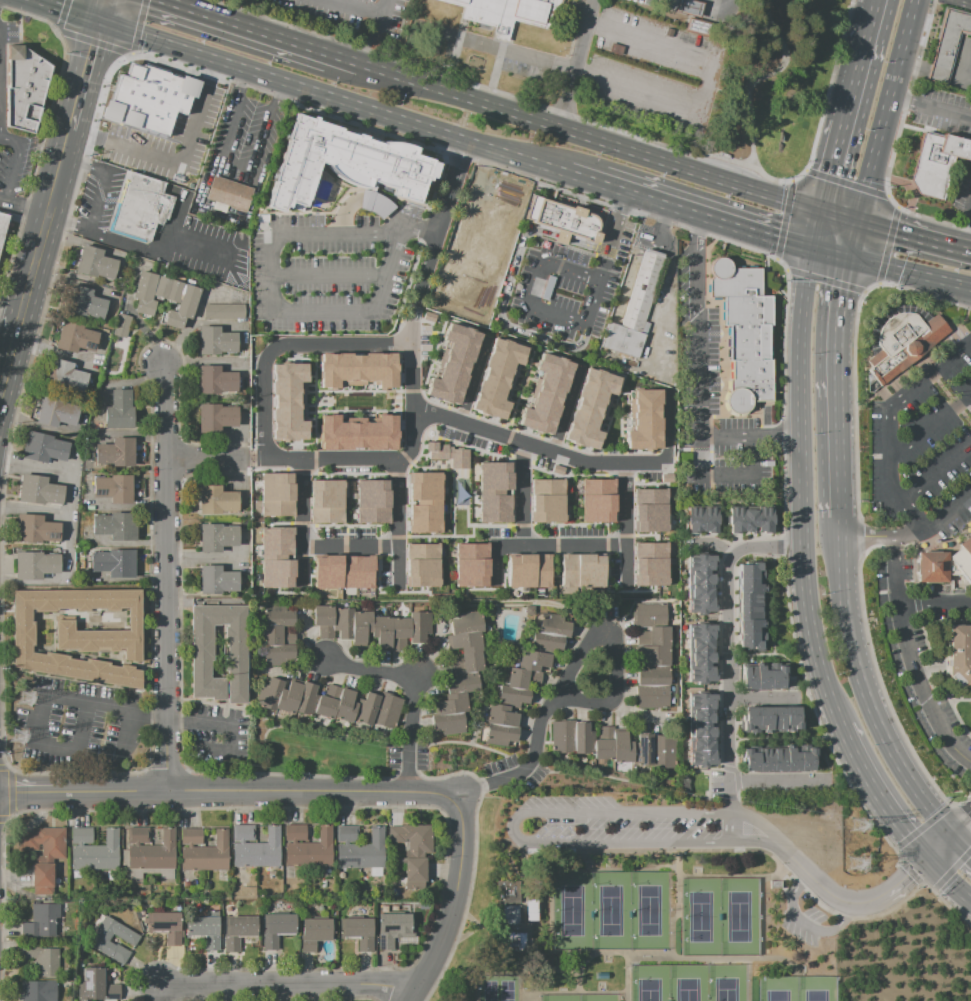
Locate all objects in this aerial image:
building: (969, 0)
road: (962, 2)
road: (356, 7)
building: (688, 7)
road: (185, 9)
building: (507, 11)
road: (65, 12)
road: (104, 12)
parking lot: (356, 15)
traffic signals: (101, 25)
road: (378, 34)
road: (143, 38)
building: (948, 46)
road: (499, 47)
road: (865, 63)
road: (574, 64)
road: (181, 67)
parking lot: (661, 70)
road: (84, 77)
road: (153, 78)
road: (242, 84)
road: (709, 84)
building: (30, 88)
road: (751, 89)
road: (278, 93)
road: (904, 100)
building: (173, 109)
road: (888, 111)
road: (943, 111)
road: (375, 113)
road: (518, 116)
road: (208, 123)
road: (43, 136)
road: (157, 138)
road: (19, 160)
building: (345, 162)
building: (937, 163)
building: (147, 166)
road: (237, 168)
road: (834, 169)
road: (488, 173)
road: (584, 174)
building: (228, 193)
road: (366, 199)
road: (99, 201)
building: (373, 201)
road: (625, 202)
building: (141, 207)
road: (24, 210)
traffic signals: (823, 213)
road: (708, 214)
building: (563, 218)
road: (841, 218)
road: (416, 221)
road: (474, 221)
traffic signals: (860, 223)
building: (2, 225)
road: (495, 227)
road: (45, 230)
road: (819, 230)
road: (373, 231)
road: (915, 236)
road: (968, 239)
road: (854, 241)
road: (588, 245)
traffic signals: (815, 248)
road: (161, 250)
road: (831, 253)
traffic signals: (848, 259)
building: (95, 263)
road: (909, 273)
road: (667, 274)
road: (327, 275)
road: (603, 276)
building: (474, 279)
parking lot: (571, 284)
road: (535, 285)
building: (164, 297)
road: (416, 301)
building: (84, 303)
building: (484, 304)
road: (502, 306)
road: (282, 309)
building: (224, 311)
building: (630, 320)
building: (121, 325)
road: (9, 327)
building: (745, 334)
building: (75, 337)
building: (901, 340)
building: (215, 341)
road: (340, 344)
road: (48, 349)
road: (9, 363)
building: (455, 364)
building: (357, 369)
building: (66, 377)
building: (496, 377)
road: (472, 378)
building: (216, 380)
road: (832, 387)
road: (697, 390)
building: (546, 394)
road: (267, 400)
building: (287, 401)
building: (591, 409)
road: (566, 410)
building: (119, 411)
building: (56, 412)
building: (216, 418)
building: (644, 420)
parking lot: (968, 420)
road: (885, 421)
road: (929, 427)
building: (357, 433)
road: (751, 436)
road: (537, 447)
building: (43, 448)
building: (115, 453)
building: (447, 453)
road: (324, 456)
road: (209, 457)
parking lot: (920, 457)
road: (936, 471)
building: (113, 488)
road: (804, 488)
building: (494, 489)
building: (39, 490)
road: (68, 492)
building: (276, 494)
building: (216, 500)
building: (546, 500)
building: (596, 500)
building: (325, 501)
building: (372, 501)
building: (428, 506)
building: (648, 509)
road: (723, 517)
building: (710, 519)
building: (694, 520)
building: (735, 520)
building: (751, 520)
building: (765, 521)
road: (302, 522)
road: (398, 522)
building: (116, 526)
road: (625, 526)
road: (836, 527)
building: (35, 529)
road: (909, 531)
building: (217, 537)
road: (521, 544)
road: (350, 545)
road: (715, 546)
road: (199, 556)
building: (276, 557)
building: (963, 558)
building: (115, 562)
building: (649, 563)
building: (700, 563)
building: (428, 564)
building: (35, 565)
building: (471, 565)
building: (932, 567)
building: (527, 570)
building: (343, 571)
building: (581, 571)
building: (750, 572)
road: (167, 577)
building: (699, 578)
building: (217, 580)
building: (748, 586)
building: (699, 592)
building: (749, 599)
road: (935, 604)
building: (701, 606)
building: (749, 613)
building: (748, 626)
building: (372, 627)
road: (774, 628)
building: (700, 633)
building: (78, 635)
building: (277, 635)
building: (748, 641)
building: (700, 647)
building: (202, 648)
road: (729, 650)
building: (959, 653)
building: (651, 654)
road: (913, 654)
road: (751, 655)
building: (700, 660)
building: (460, 673)
road: (570, 674)
building: (700, 676)
building: (524, 679)
building: (748, 679)
building: (761, 679)
building: (776, 679)
road: (410, 695)
road: (765, 697)
road: (868, 698)
power tower: (26, 700)
road: (39, 700)
building: (329, 703)
building: (700, 703)
building: (700, 717)
building: (792, 720)
building: (749, 721)
building: (764, 721)
building: (778, 721)
building: (700, 731)
power tower: (18, 736)
building: (590, 740)
road: (774, 740)
building: (700, 745)
building: (643, 750)
building: (663, 751)
building: (701, 760)
building: (765, 761)
building: (778, 761)
building: (791, 761)
building: (807, 761)
building: (749, 762)
road: (768, 784)
road: (228, 792)
road: (878, 798)
road: (496, 802)
parking lot: (621, 822)
power tower: (859, 826)
road: (764, 827)
road: (729, 831)
road: (963, 831)
building: (236, 834)
building: (247, 834)
building: (289, 834)
building: (299, 834)
building: (75, 835)
building: (85, 835)
building: (340, 836)
building: (350, 836)
building: (131, 837)
building: (142, 837)
building: (184, 838)
building: (195, 838)
traffic signals: (956, 838)
road: (525, 844)
road: (963, 846)
building: (413, 849)
building: (311, 851)
building: (258, 852)
building: (97, 853)
building: (361, 853)
road: (601, 853)
building: (153, 854)
building: (206, 855)
building: (44, 856)
traffic signals: (929, 862)
power tower: (855, 864)
road: (524, 867)
road: (917, 870)
road: (515, 871)
road: (764, 878)
road: (949, 881)
road: (823, 889)
building: (506, 892)
road: (450, 902)
road: (676, 904)
park: (643, 906)
park: (572, 910)
park: (611, 910)
park: (649, 910)
building: (532, 911)
building: (511, 915)
park: (700, 915)
park: (738, 915)
parking lot: (811, 918)
building: (41, 921)
building: (167, 927)
road: (806, 927)
building: (276, 929)
building: (391, 929)
road: (526, 929)
building: (203, 930)
building: (238, 931)
building: (357, 931)
building: (314, 932)
building: (128, 938)
building: (509, 942)
road: (454, 943)
road: (649, 955)
building: (41, 959)
road: (496, 972)
road: (626, 974)
park: (726, 982)
park: (650, 983)
park: (688, 983)
building: (96, 985)
road: (283, 985)
park: (778, 988)
park: (499, 989)
park: (814, 989)
building: (38, 990)
road: (154, 993)
road: (574, 993)
park: (561, 999)
park: (597, 999)

